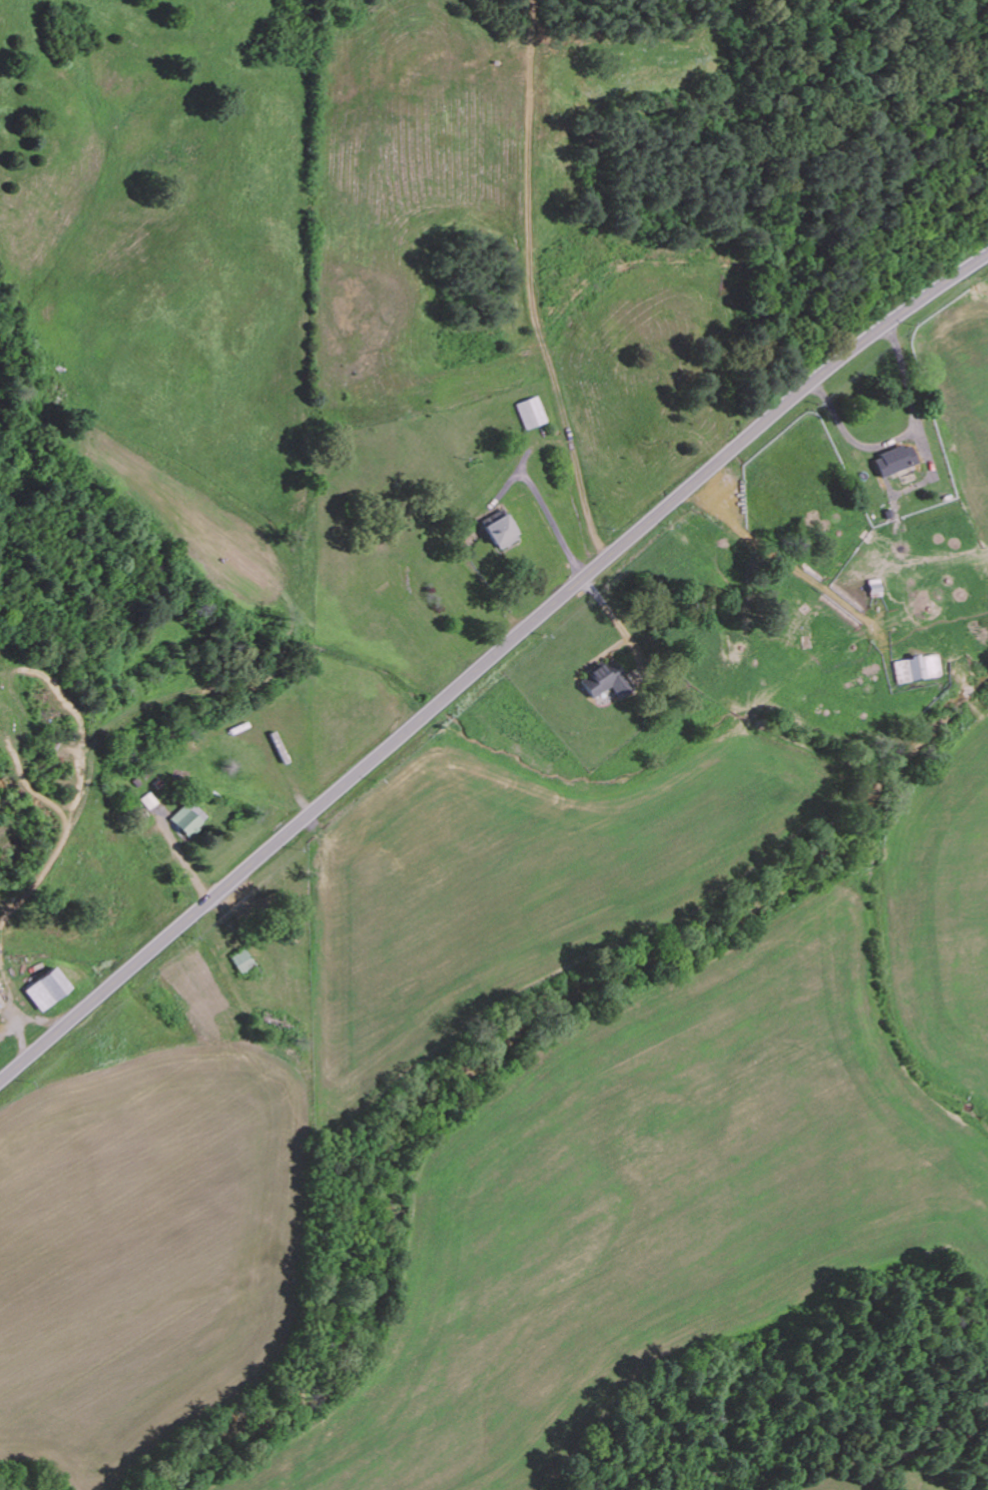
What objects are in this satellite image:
building: (532, 412)
building: (894, 459)
building: (500, 531)
building: (875, 587)
road: (488, 658)
building: (917, 667)
building: (608, 683)
building: (187, 818)
building: (244, 961)
building: (46, 988)

